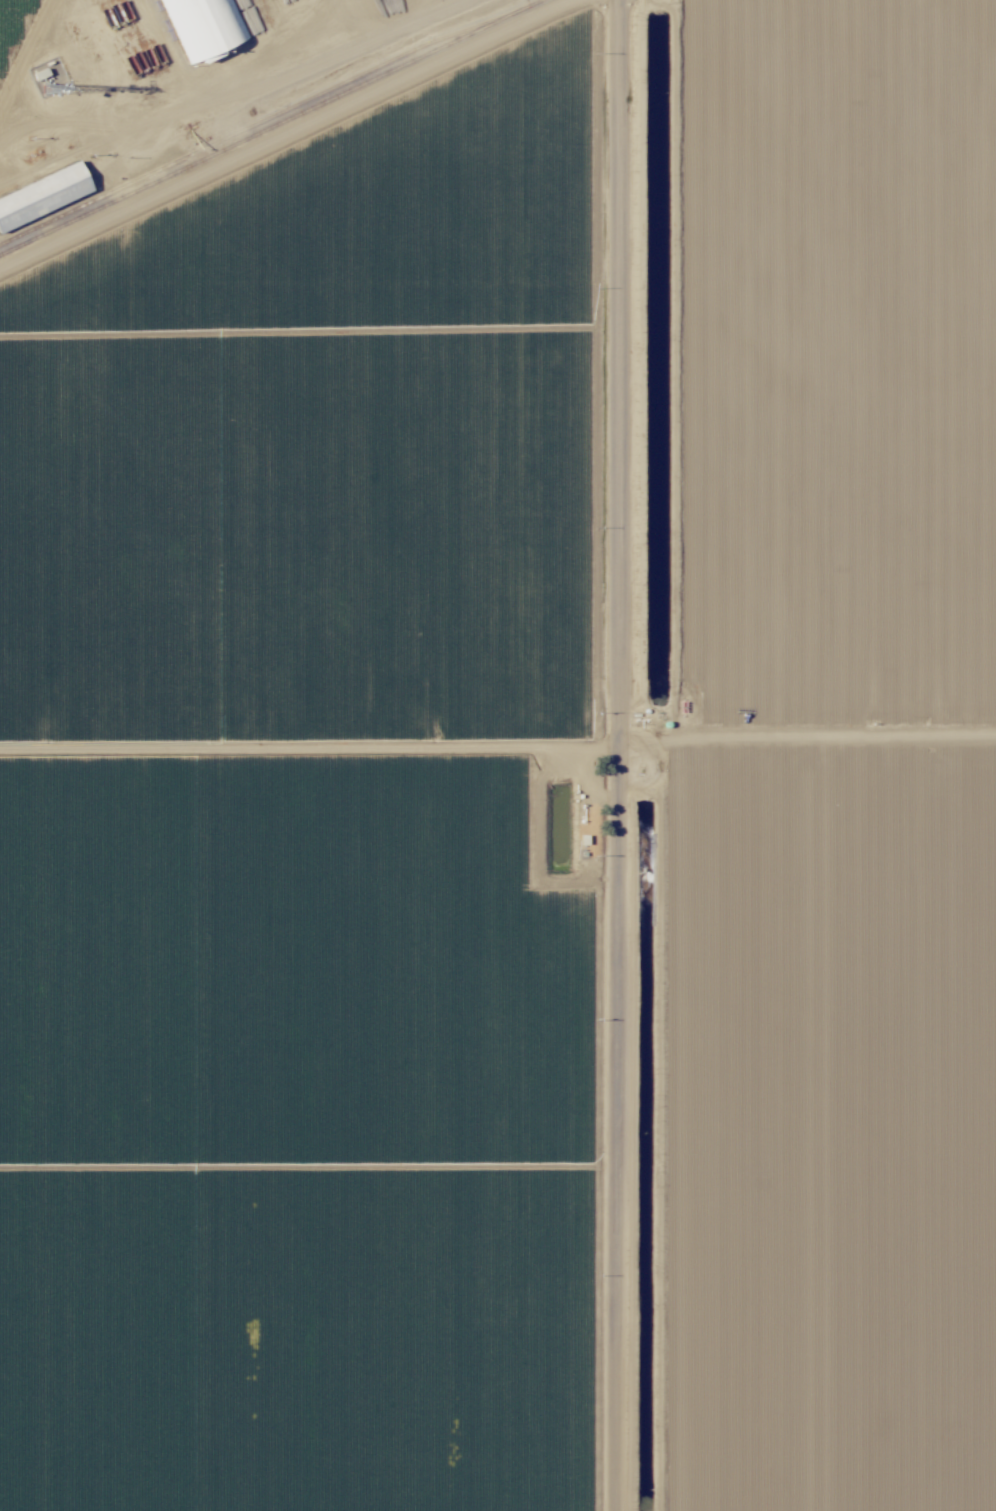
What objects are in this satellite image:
building: (202, 25)
railway: (268, 126)
railway: (242, 128)
building: (59, 185)
crop: (806, 368)
crop: (329, 440)
road: (805, 744)
road: (307, 745)
road: (613, 755)
crop: (807, 1124)
crop: (309, 1125)

